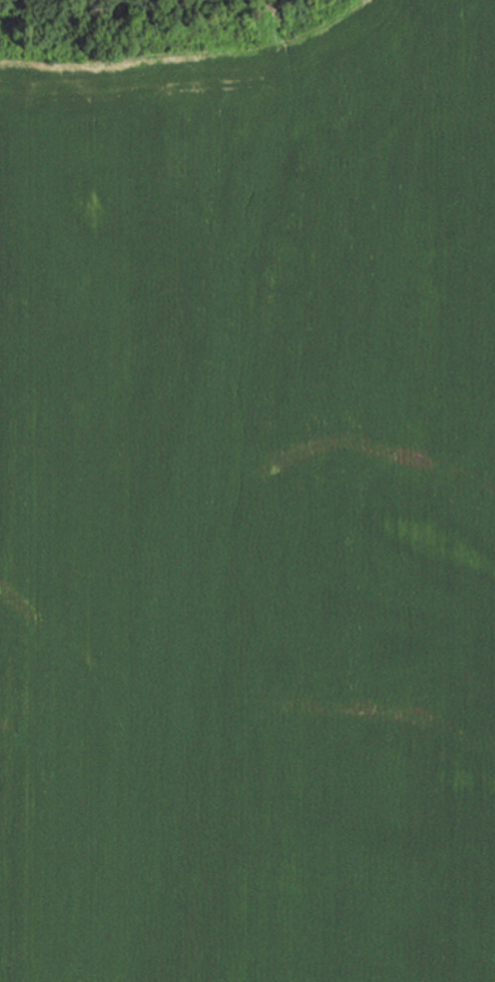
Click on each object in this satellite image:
crop: (249, 500)

